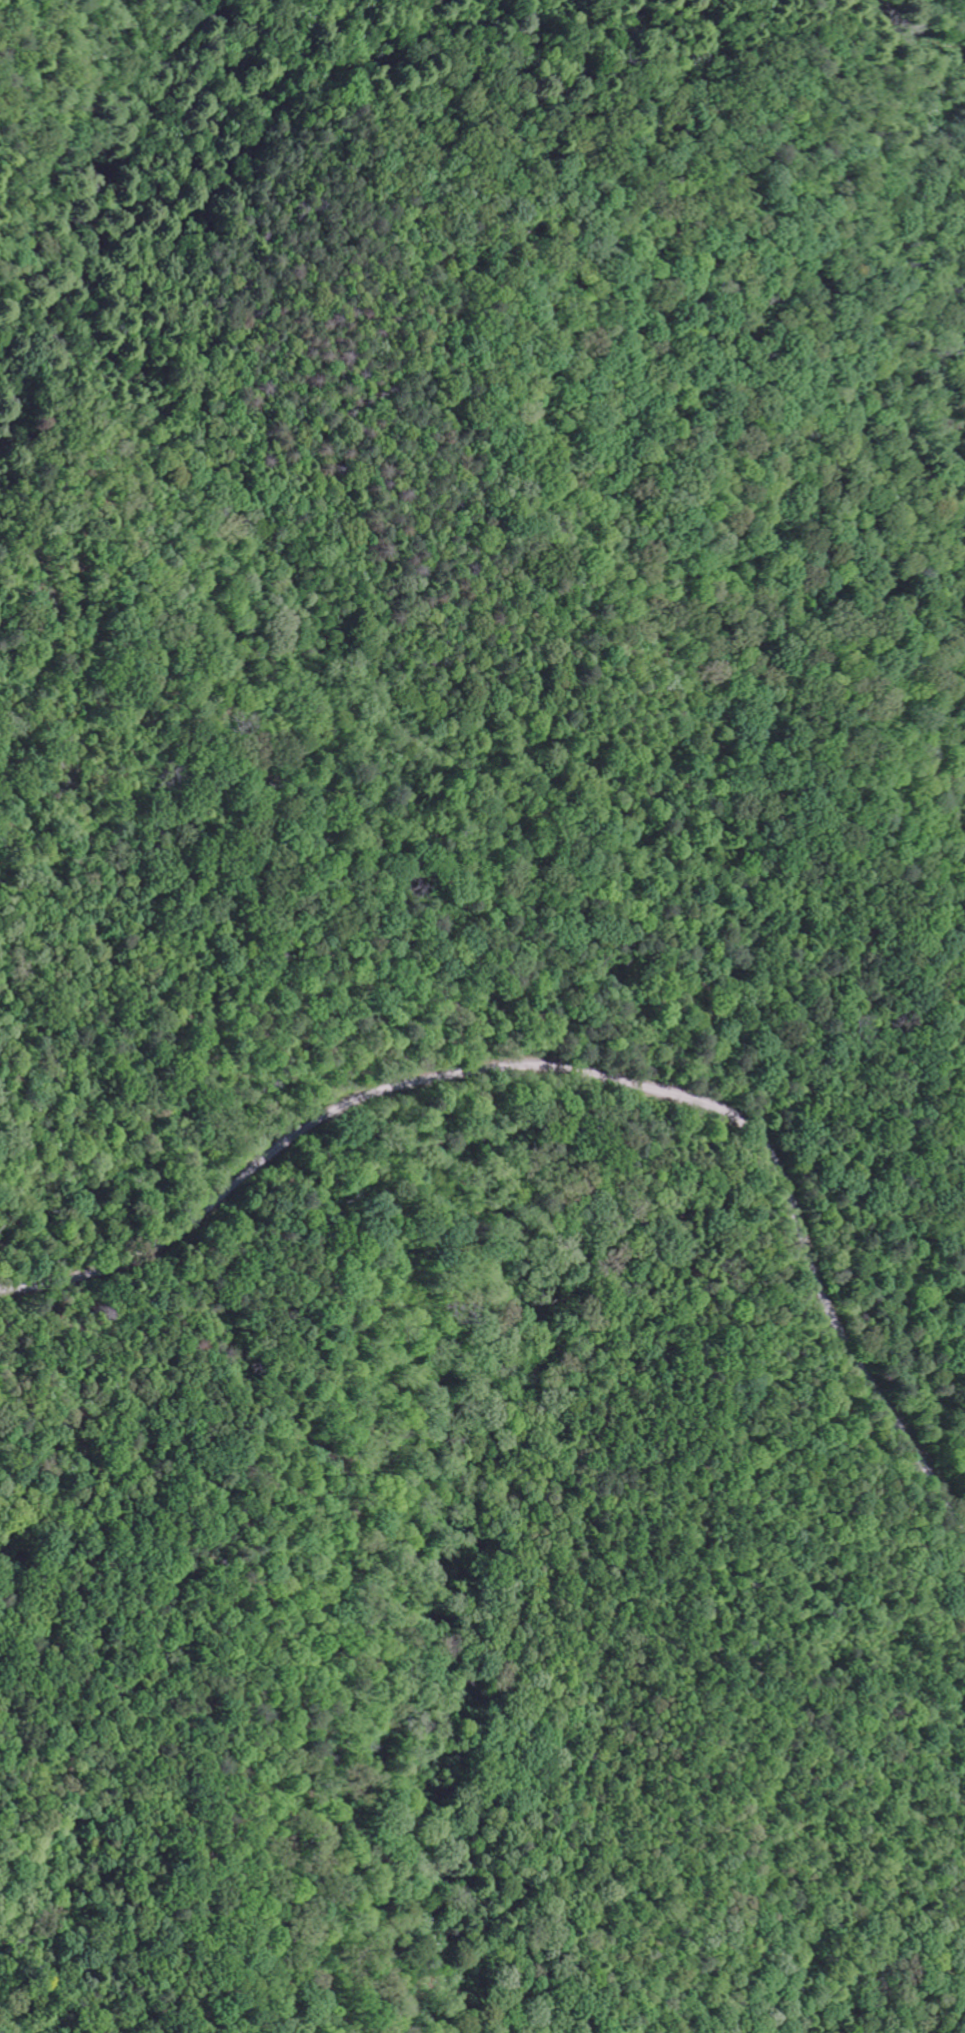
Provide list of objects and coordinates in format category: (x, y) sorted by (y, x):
road: (575, 1070)

